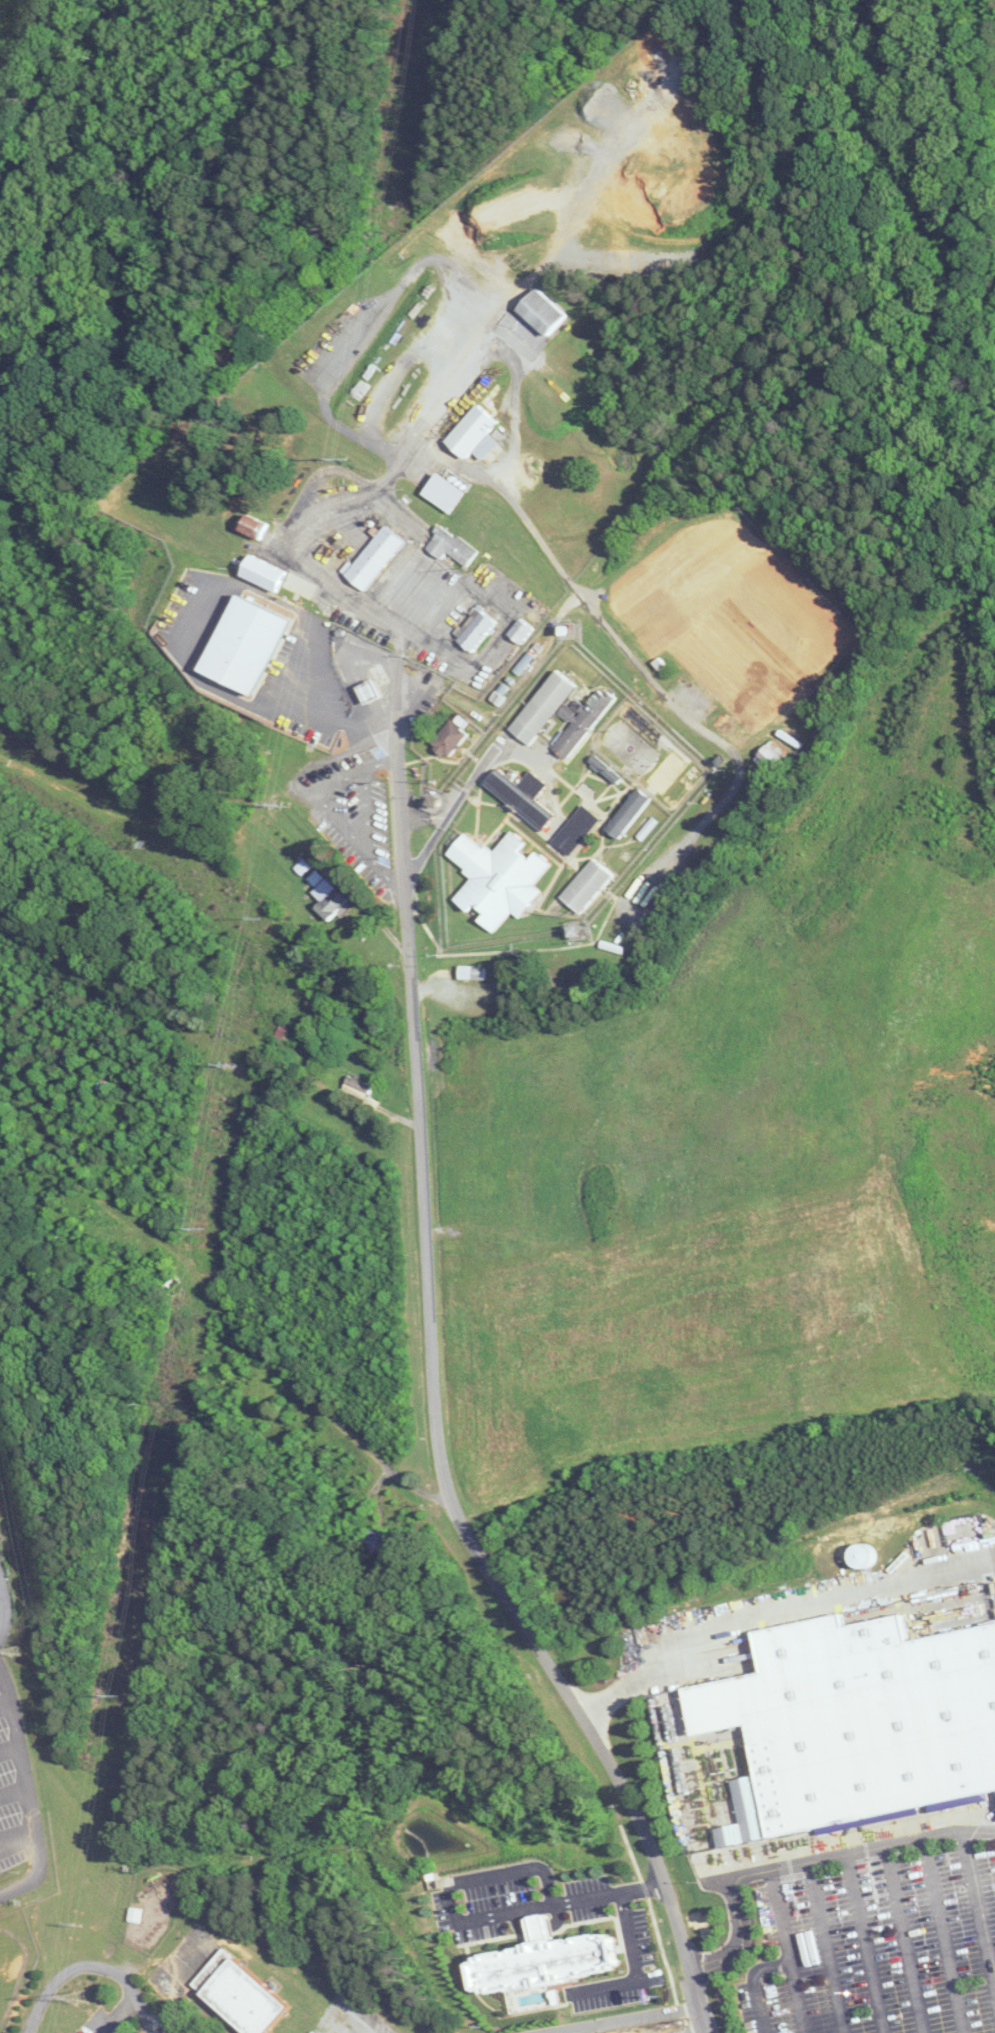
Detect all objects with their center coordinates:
building: (547, 312)
building: (479, 433)
power tower: (346, 461)
building: (450, 493)
building: (257, 527)
building: (454, 547)
building: (379, 558)
building: (268, 574)
road: (417, 615)
building: (477, 628)
building: (524, 631)
road: (191, 668)
building: (375, 692)
building: (547, 708)
road: (346, 721)
building: (585, 723)
building: (453, 740)
building: (773, 759)
road: (460, 796)
building: (527, 796)
power tower: (283, 805)
road: (330, 809)
building: (634, 813)
road: (366, 814)
building: (580, 832)
building: (502, 879)
building: (591, 886)
building: (332, 900)
building: (474, 973)
power tower: (236, 1067)
building: (359, 1088)
power tower: (208, 1228)
building: (166, 1279)
road: (433, 1380)
building: (364, 1505)
building: (379, 1541)
building: (859, 1556)
road: (4, 1609)
road: (769, 1611)
power tower: (20, 1650)
power tower: (119, 1694)
road: (4, 1697)
building: (855, 1722)
road: (10, 1742)
road: (14, 1786)
road: (30, 1791)
road: (19, 1842)
road: (802, 1864)
parking lot: (519, 1903)
road: (979, 1910)
building: (138, 1915)
road: (474, 1916)
power tower: (74, 1925)
building: (538, 1934)
road: (944, 1935)
road: (905, 1939)
road: (866, 1943)
road: (827, 1948)
road: (85, 1963)
building: (551, 1963)
road: (786, 1963)
road: (637, 1966)
building: (243, 1996)
road: (797, 1998)
power tower: (83, 1999)
road: (625, 2018)
road: (703, 2028)

